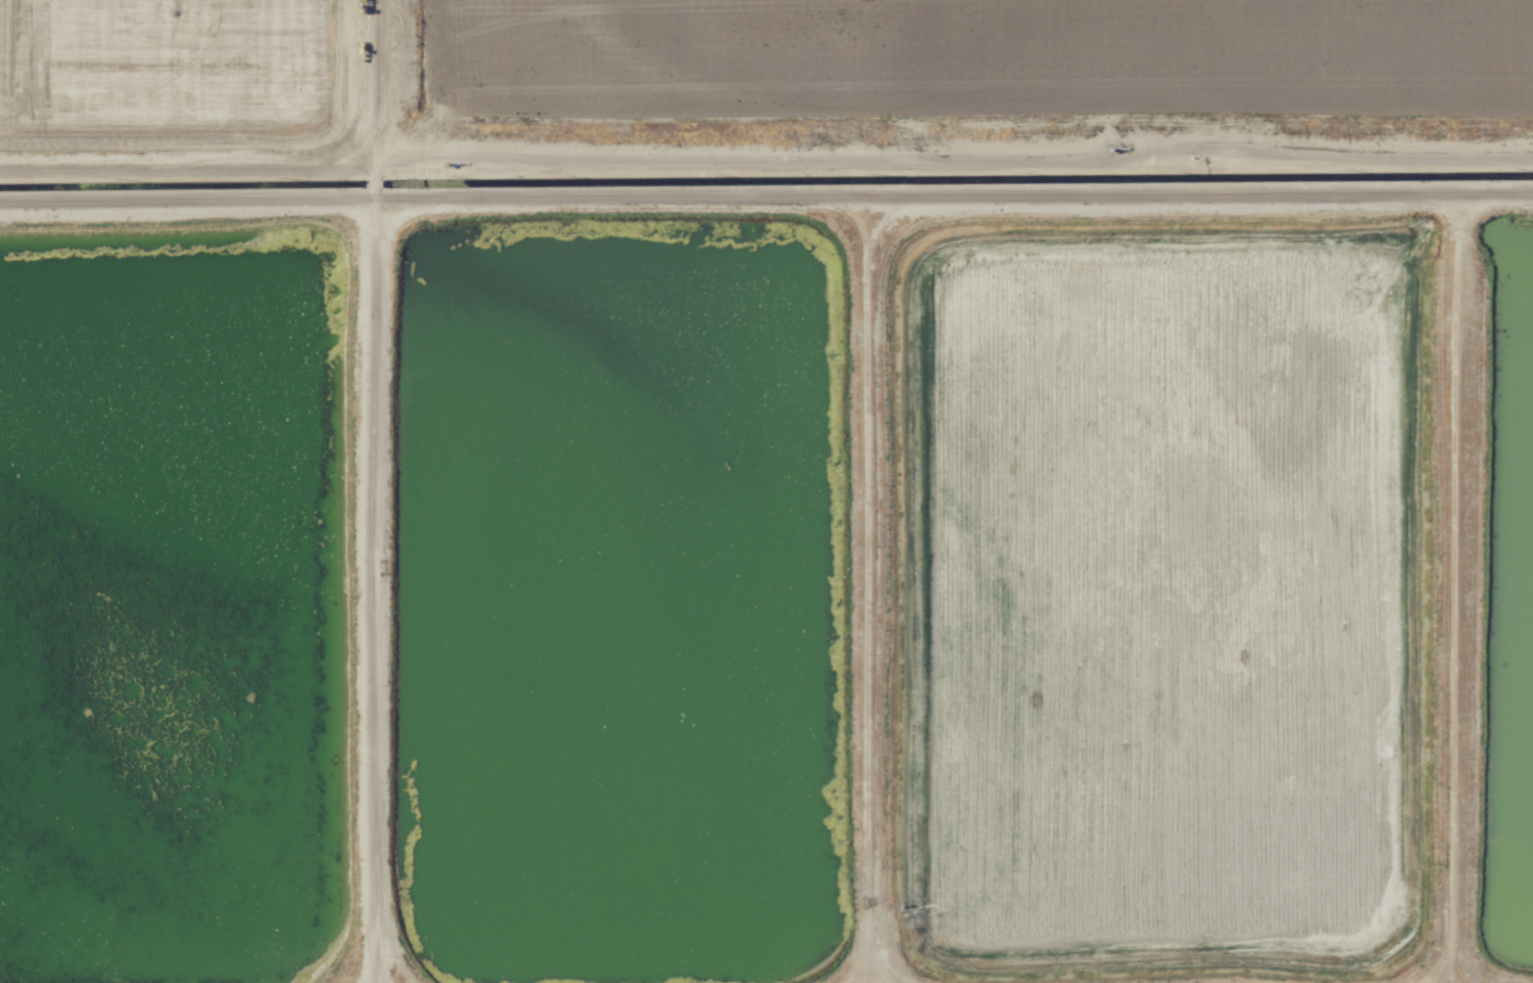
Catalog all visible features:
wastewater plant: (982, 59)
wastewater plant: (172, 60)
road: (767, 160)
road: (766, 195)
road: (374, 491)
wastewater plant: (766, 491)
wastewater plant: (1515, 580)
road: (870, 588)
road: (1460, 588)
wastewater plant: (1167, 592)
wastewater plant: (618, 599)
wastewater plant: (169, 606)

